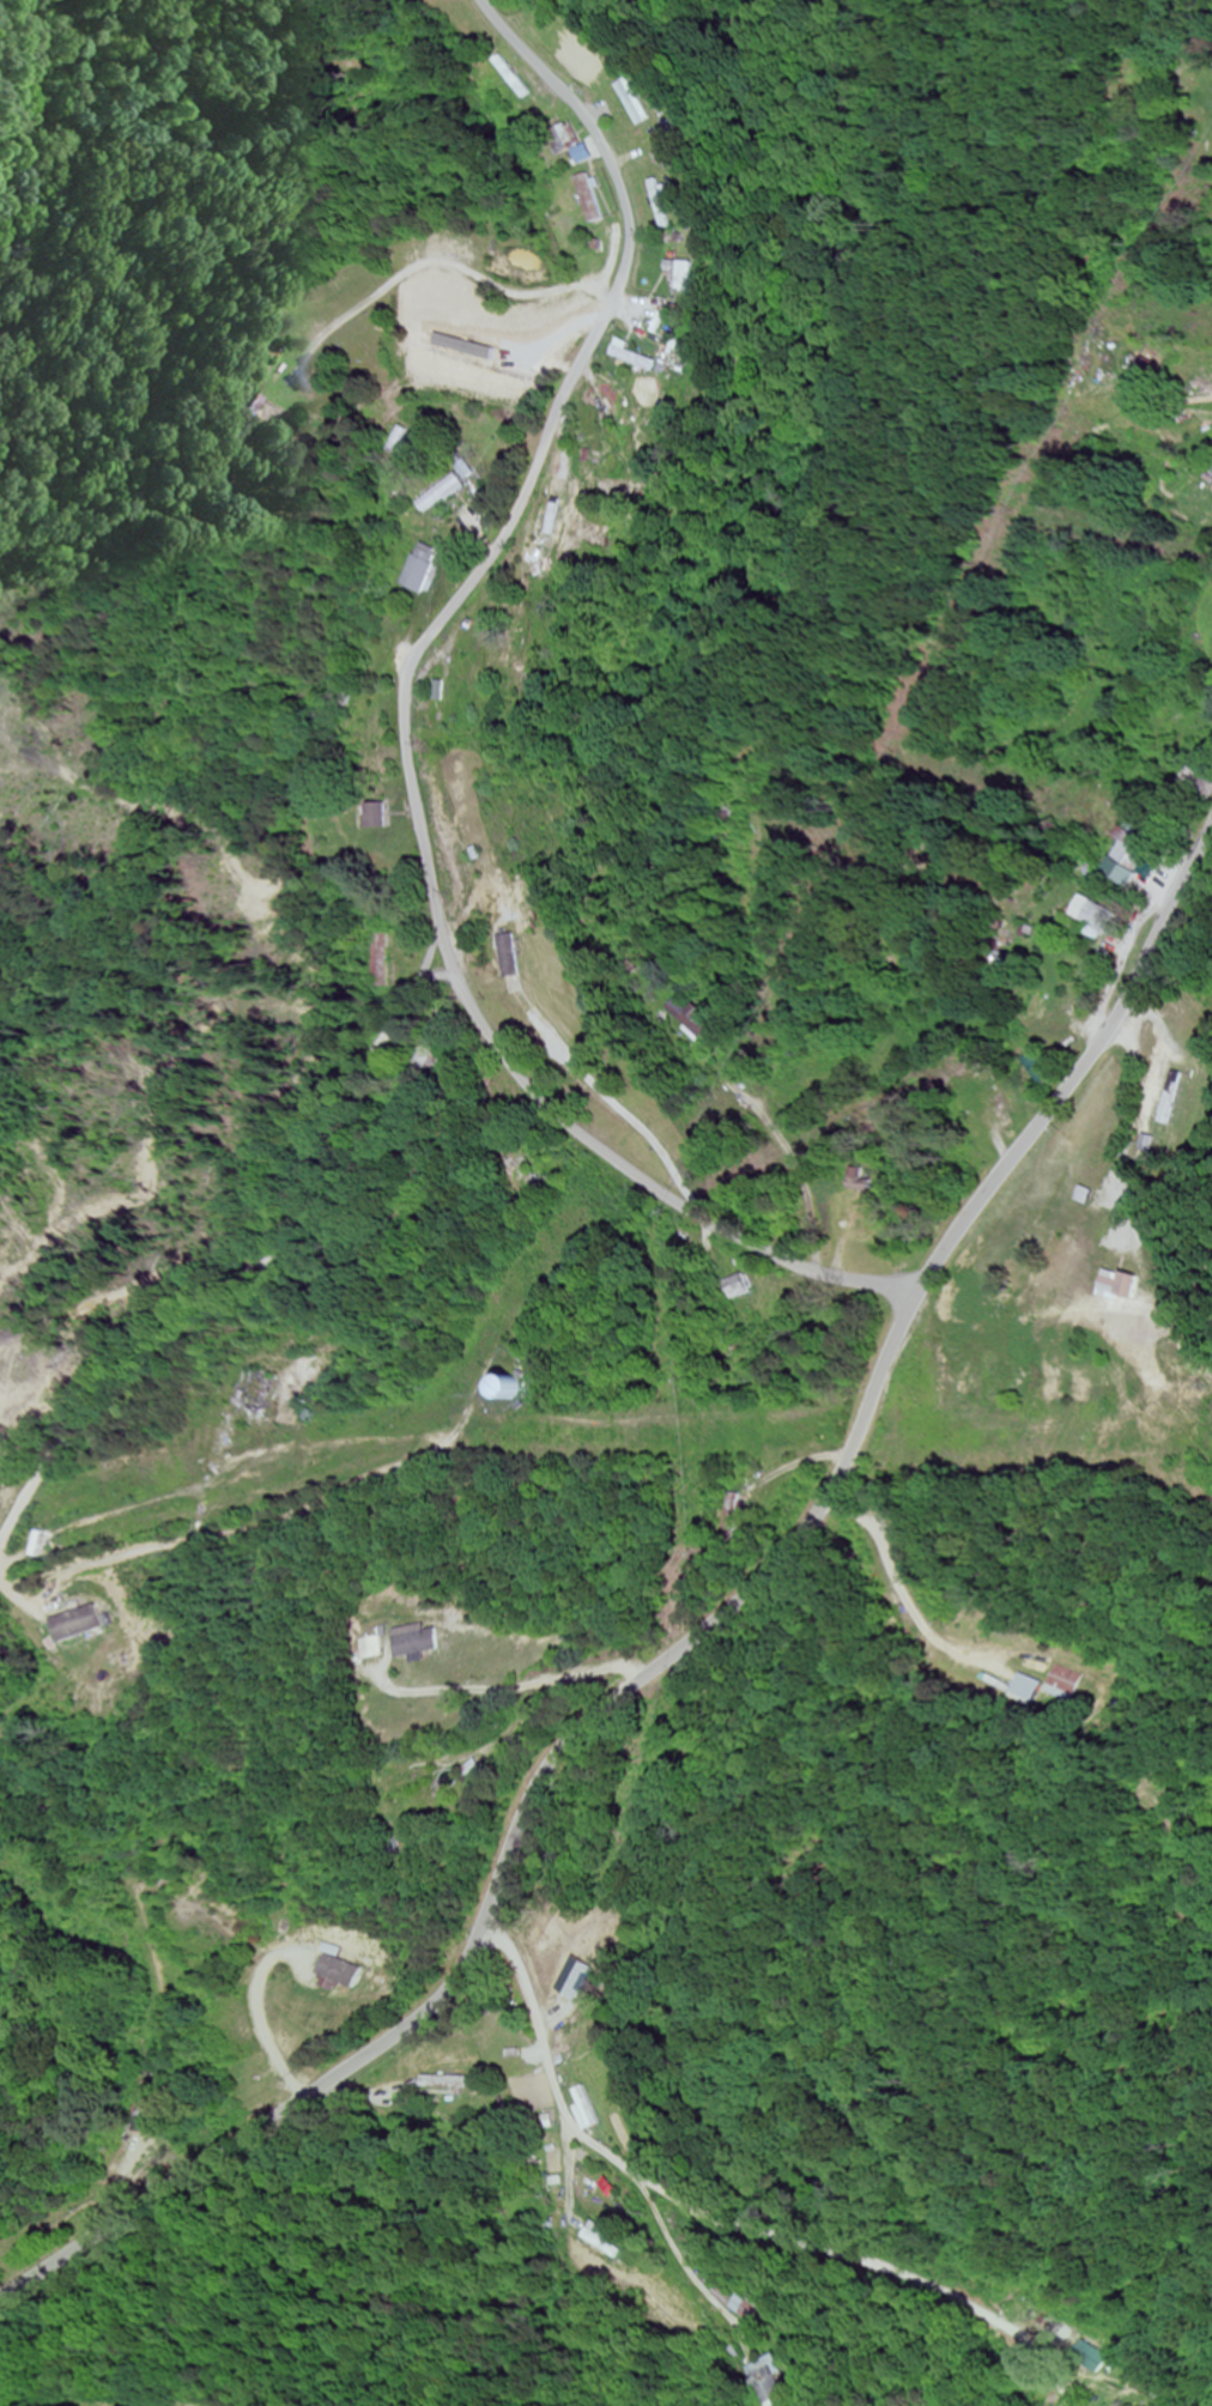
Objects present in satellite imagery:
building: (515, 78)
building: (644, 102)
building: (566, 139)
road: (811, 182)
building: (590, 199)
building: (668, 204)
building: (689, 275)
building: (671, 349)
building: (635, 359)
building: (444, 496)
building: (423, 569)
road: (618, 687)
road: (413, 728)
building: (375, 817)
building: (1133, 852)
building: (1093, 915)
road: (431, 956)
building: (511, 956)
road: (681, 1077)
building: (998, 1102)
building: (1114, 1109)
road: (1201, 1194)
road: (248, 1273)
building: (1055, 1281)
building: (1128, 1286)
building: (502, 1387)
building: (261, 1393)
road: (910, 1572)
building: (77, 1624)
building: (417, 1642)
building: (371, 1648)
road: (691, 1648)
building: (1068, 1684)
building: (1028, 1689)
road: (302, 1760)
building: (480, 1771)
building: (408, 1783)
building: (335, 1972)
building: (448, 2084)
building: (590, 2109)
road: (732, 2219)
building: (764, 2309)

